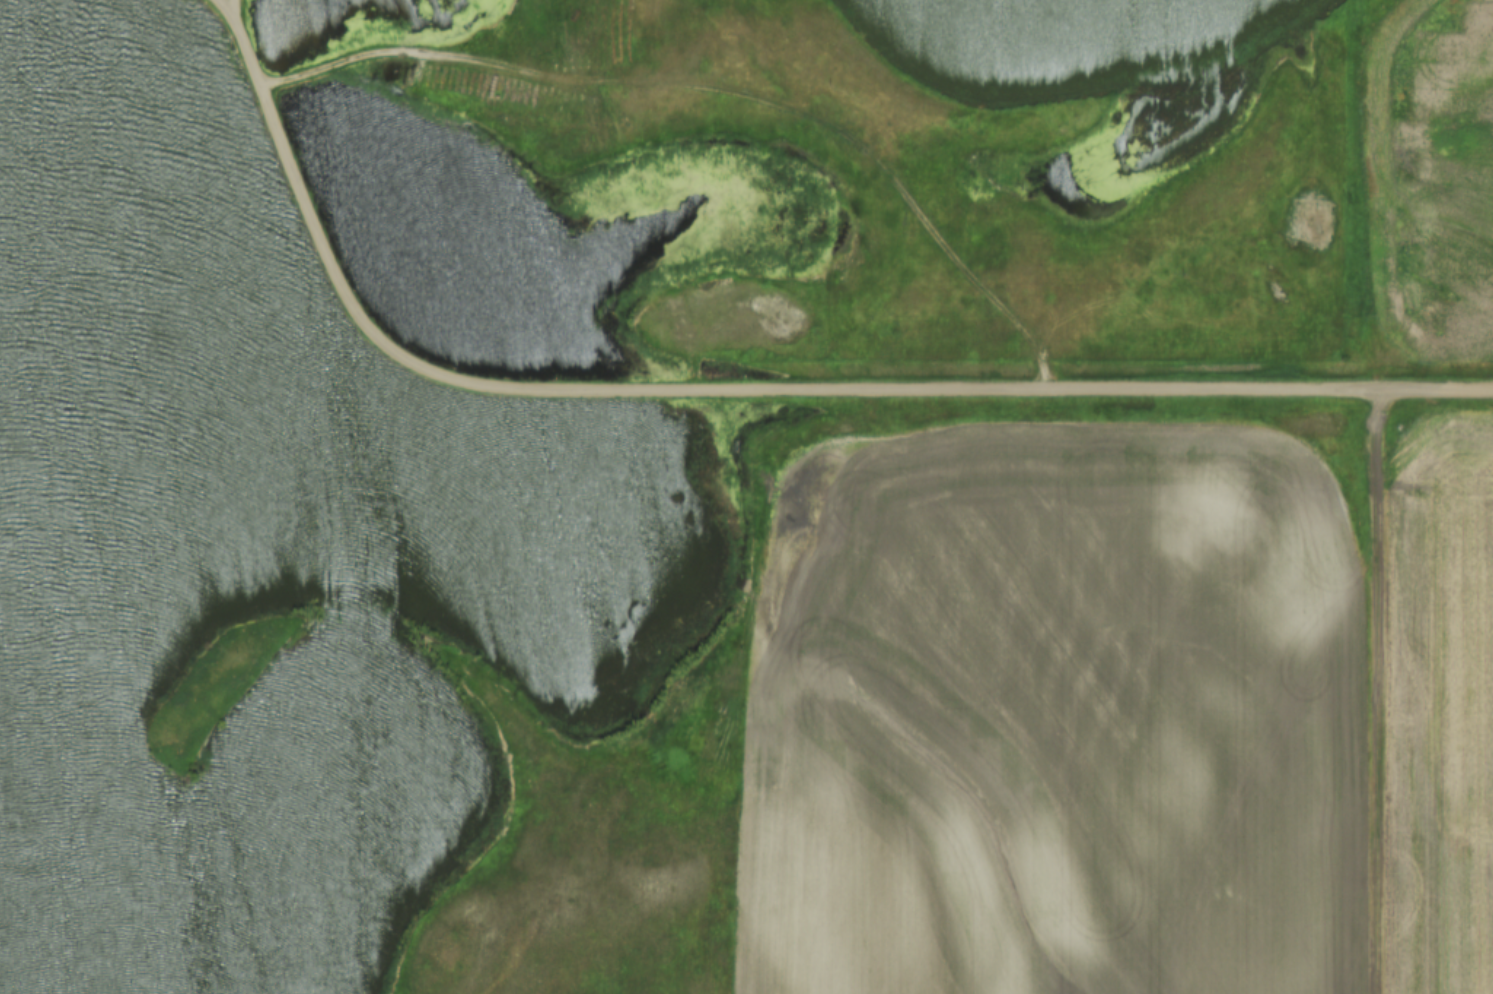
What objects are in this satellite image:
road: (243, 24)
road: (735, 396)
road: (1386, 691)

